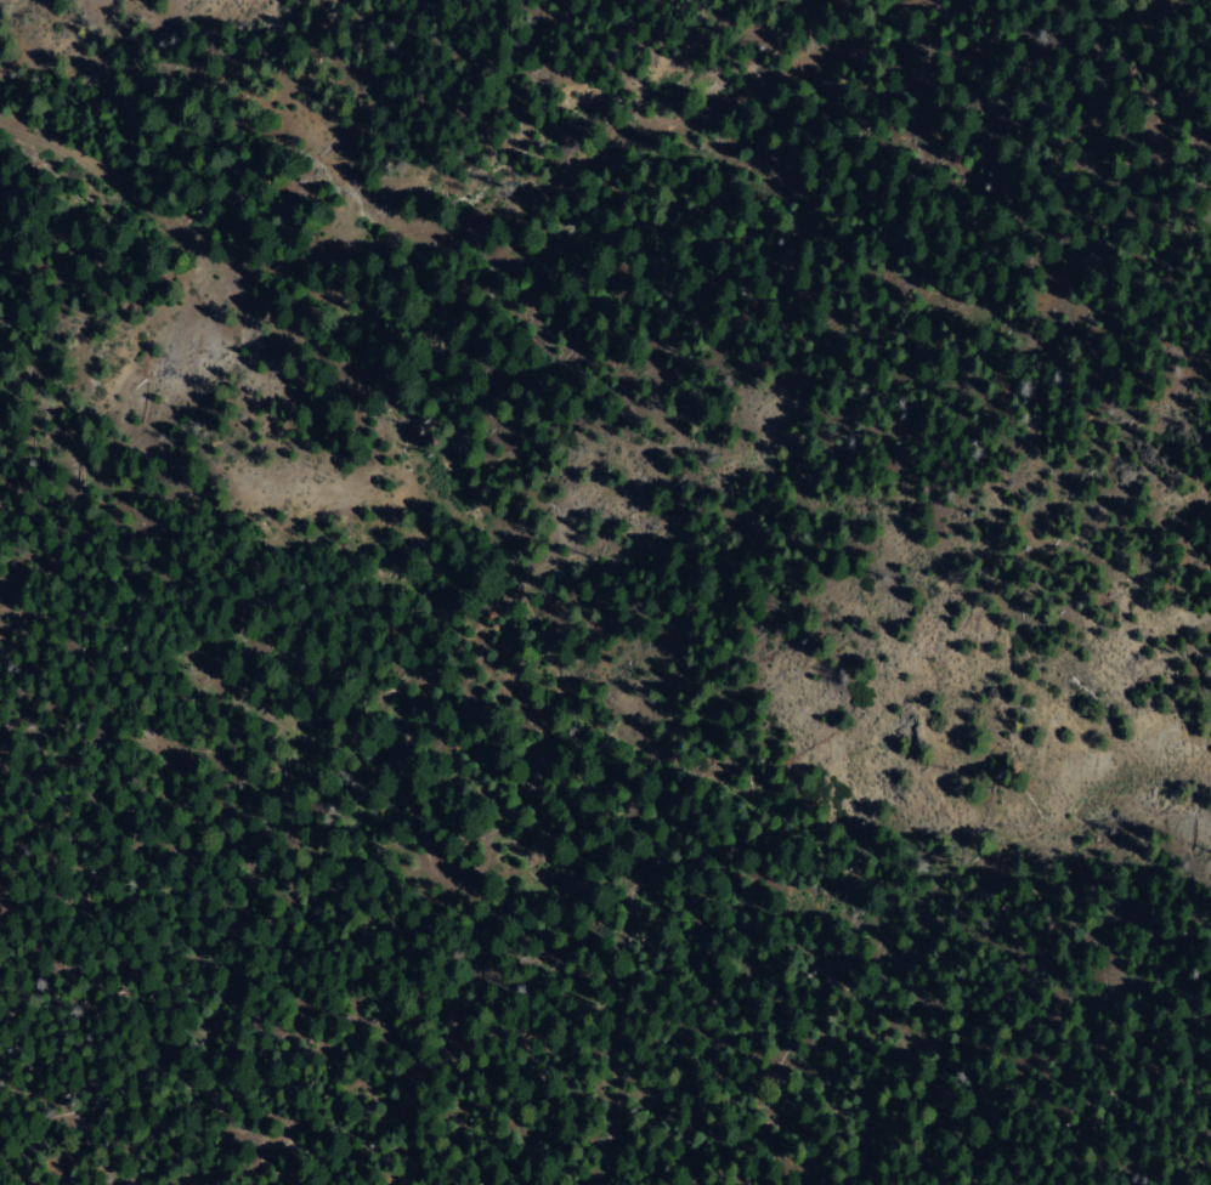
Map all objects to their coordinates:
road: (163, 189)

